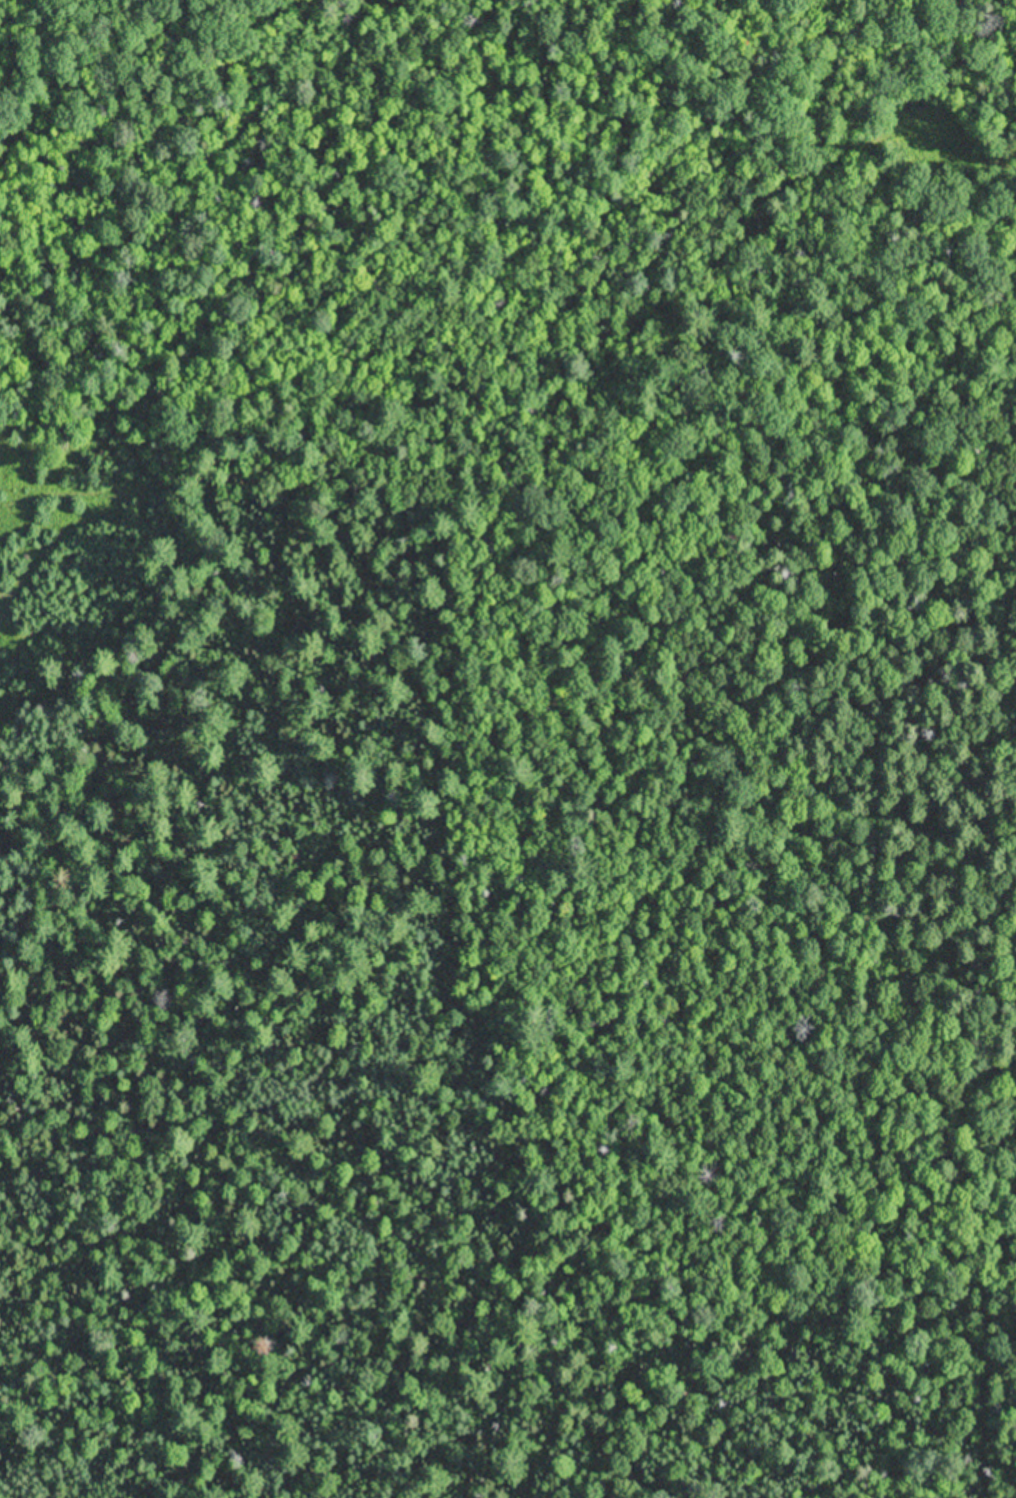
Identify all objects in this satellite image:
road: (953, 142)

